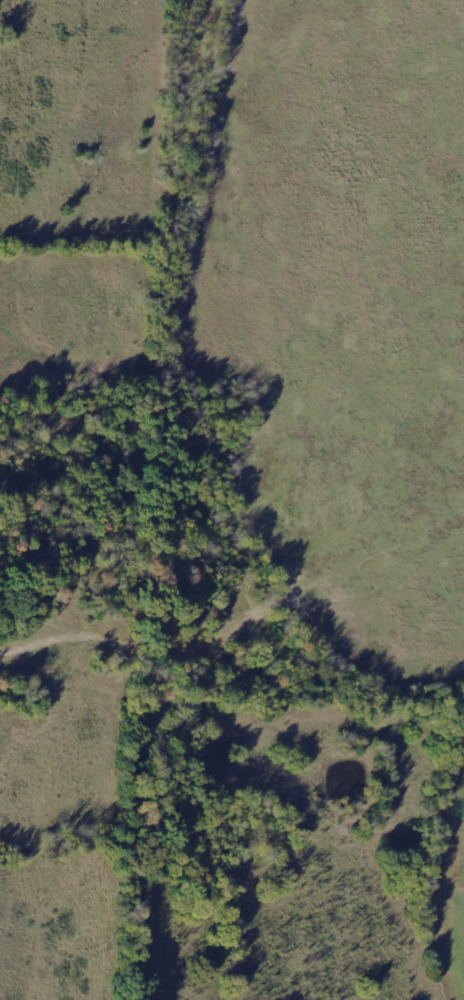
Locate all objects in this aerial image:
road: (332, 690)

